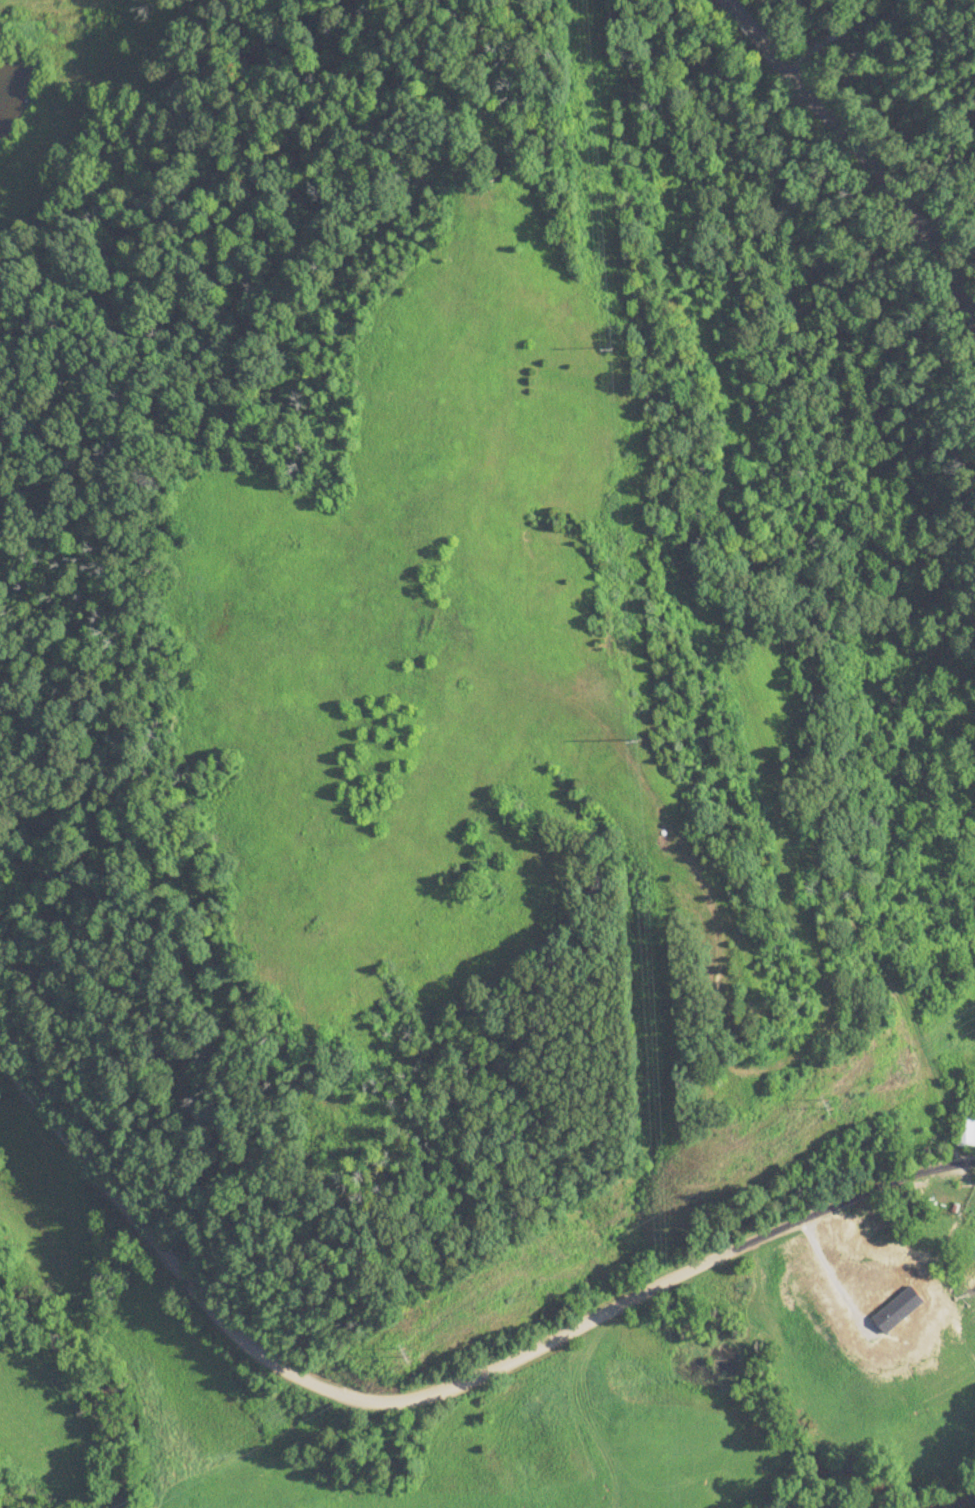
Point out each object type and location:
road: (834, 32)
road: (858, 156)
power tower: (636, 740)
power tower: (833, 1103)
building: (965, 1129)
power tower: (406, 1354)
river: (101, 1378)
road: (438, 1391)
river: (840, 1466)
river: (955, 1499)

